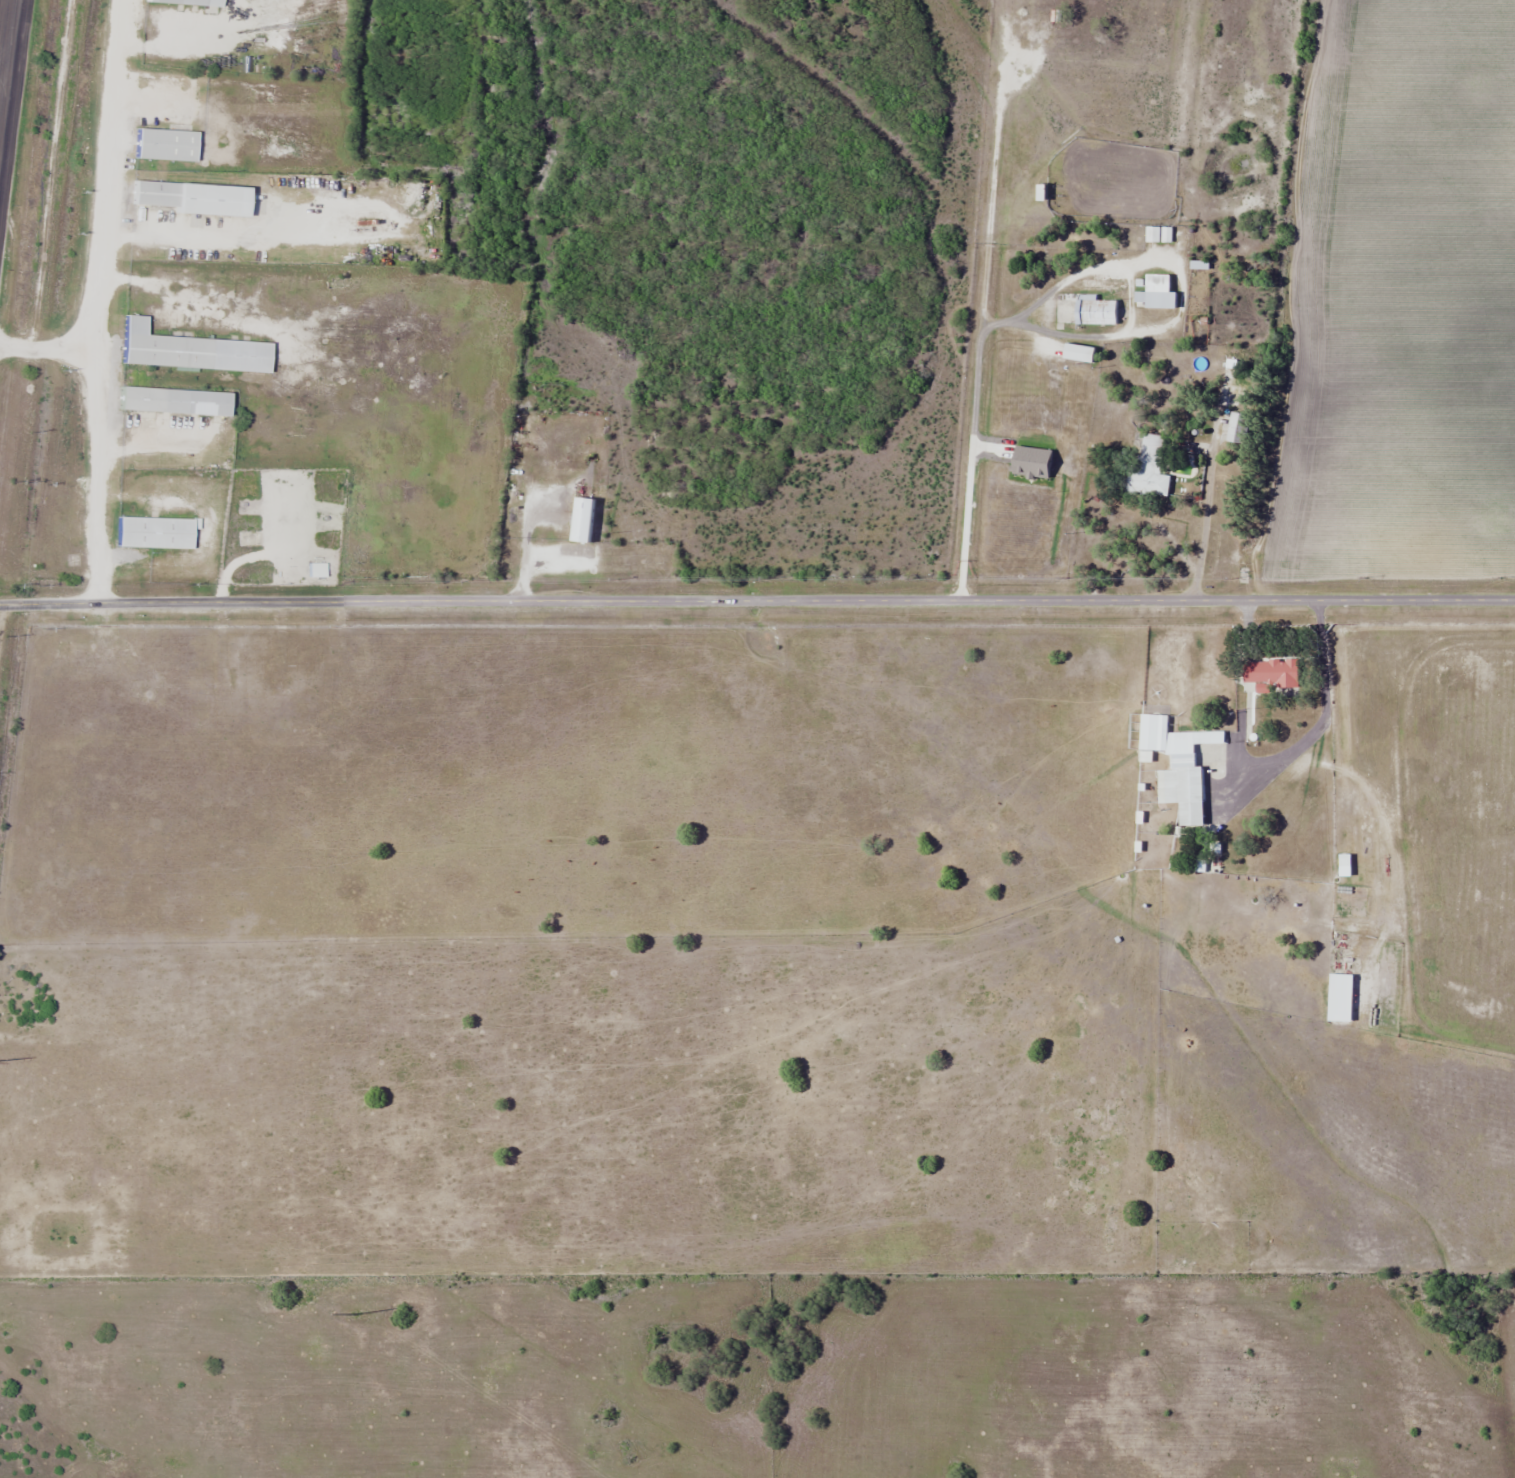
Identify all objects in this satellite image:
building: (176, 2)
road: (2, 17)
road: (10, 81)
building: (163, 143)
building: (189, 197)
road: (102, 219)
building: (1158, 300)
building: (1095, 312)
railway: (38, 324)
building: (164, 350)
building: (150, 399)
building: (1238, 428)
building: (1147, 470)
road: (98, 475)
road: (1203, 530)
building: (153, 532)
building: (315, 570)
road: (757, 601)
building: (1270, 674)
building: (1179, 766)
power tower: (354, 1313)

